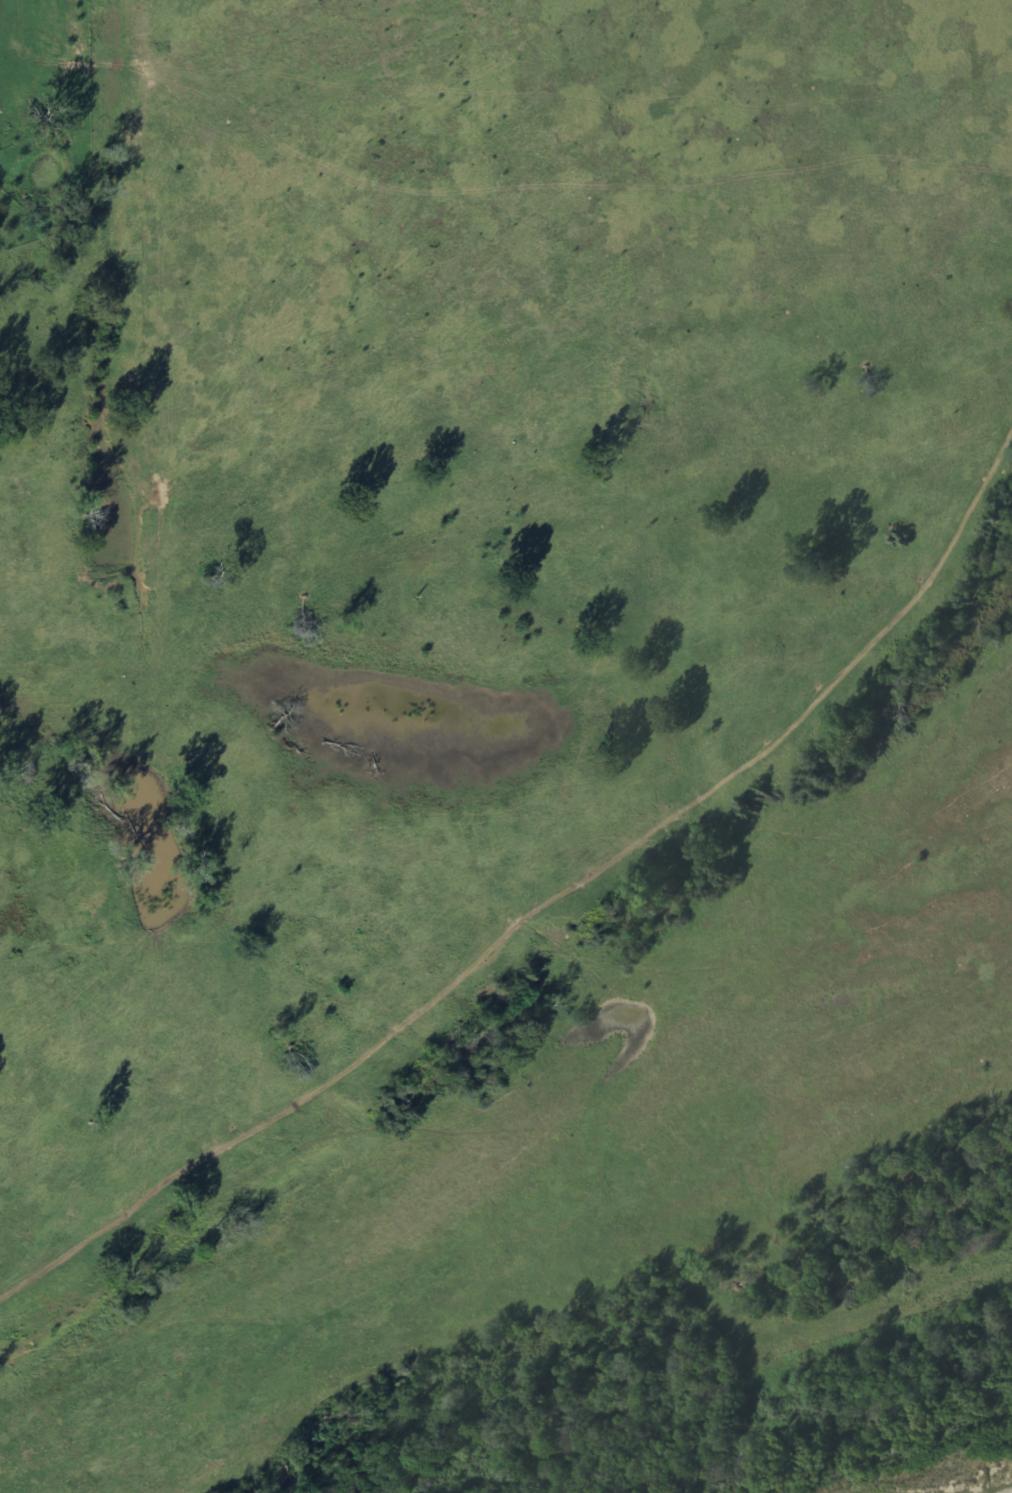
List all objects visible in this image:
river: (1008, 1491)

